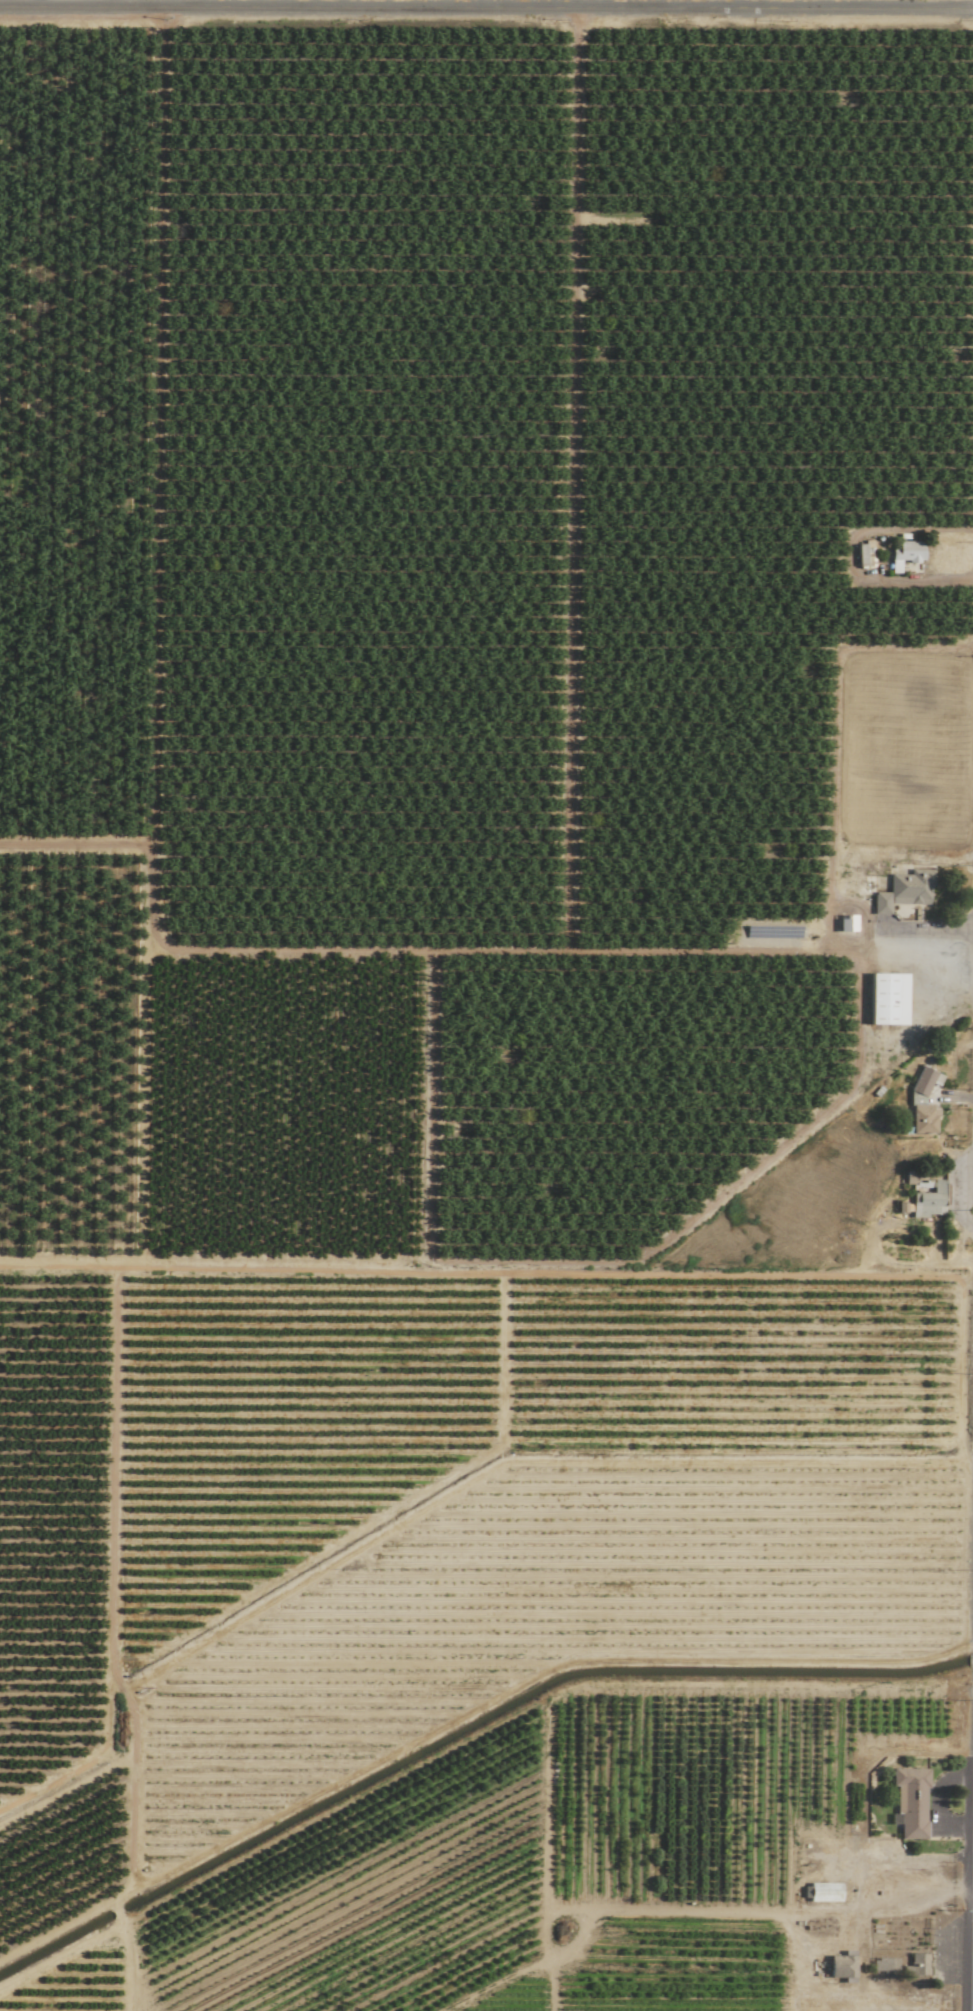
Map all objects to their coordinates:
road: (486, 8)
building: (906, 554)
building: (866, 555)
building: (905, 891)
building: (888, 999)
crop: (486, 1005)
building: (926, 1101)
building: (930, 1201)
building: (911, 1801)
building: (825, 1891)
building: (885, 1965)

